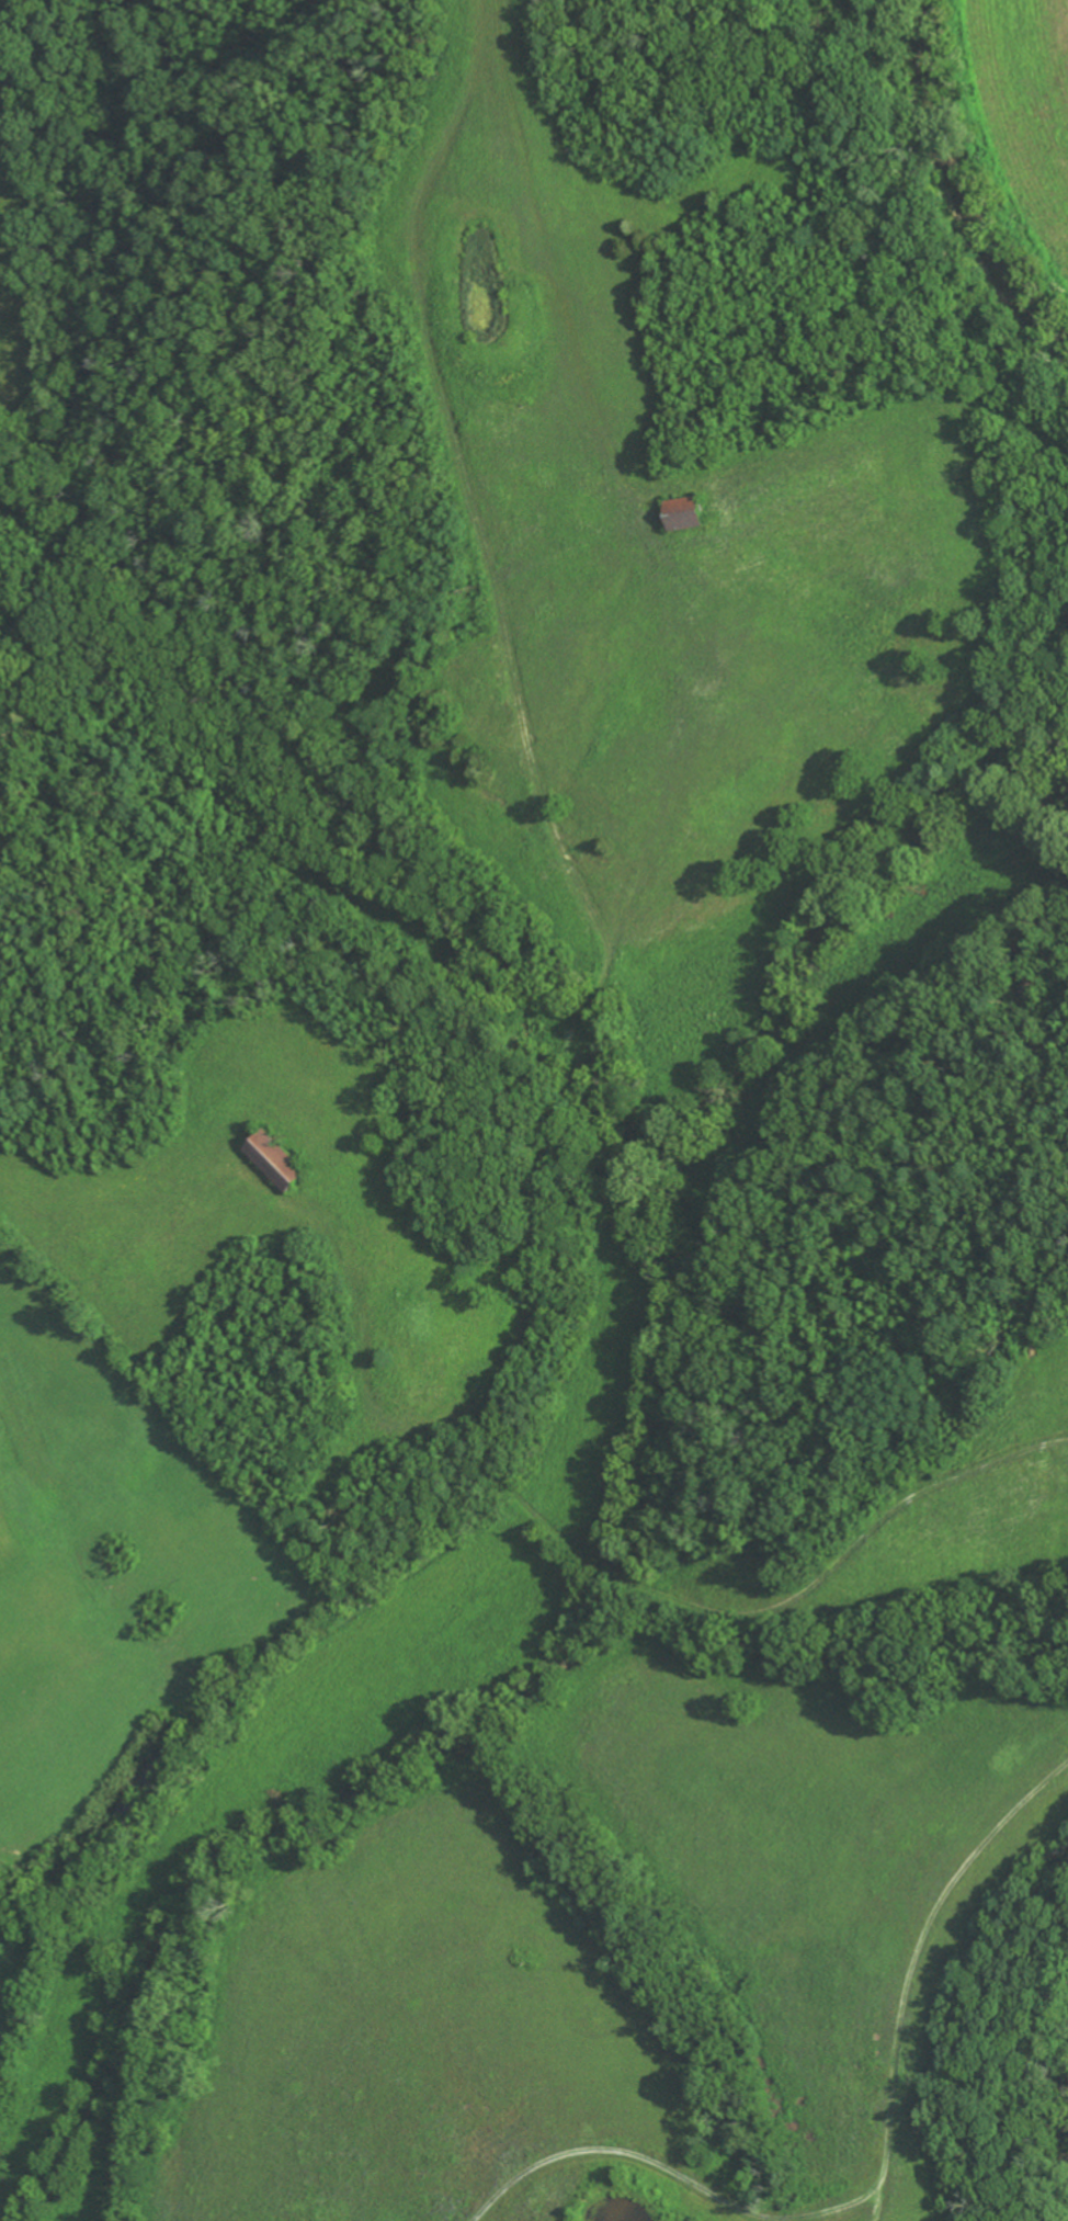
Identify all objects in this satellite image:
building: (694, 512)
building: (284, 1162)
road: (134, 1781)

